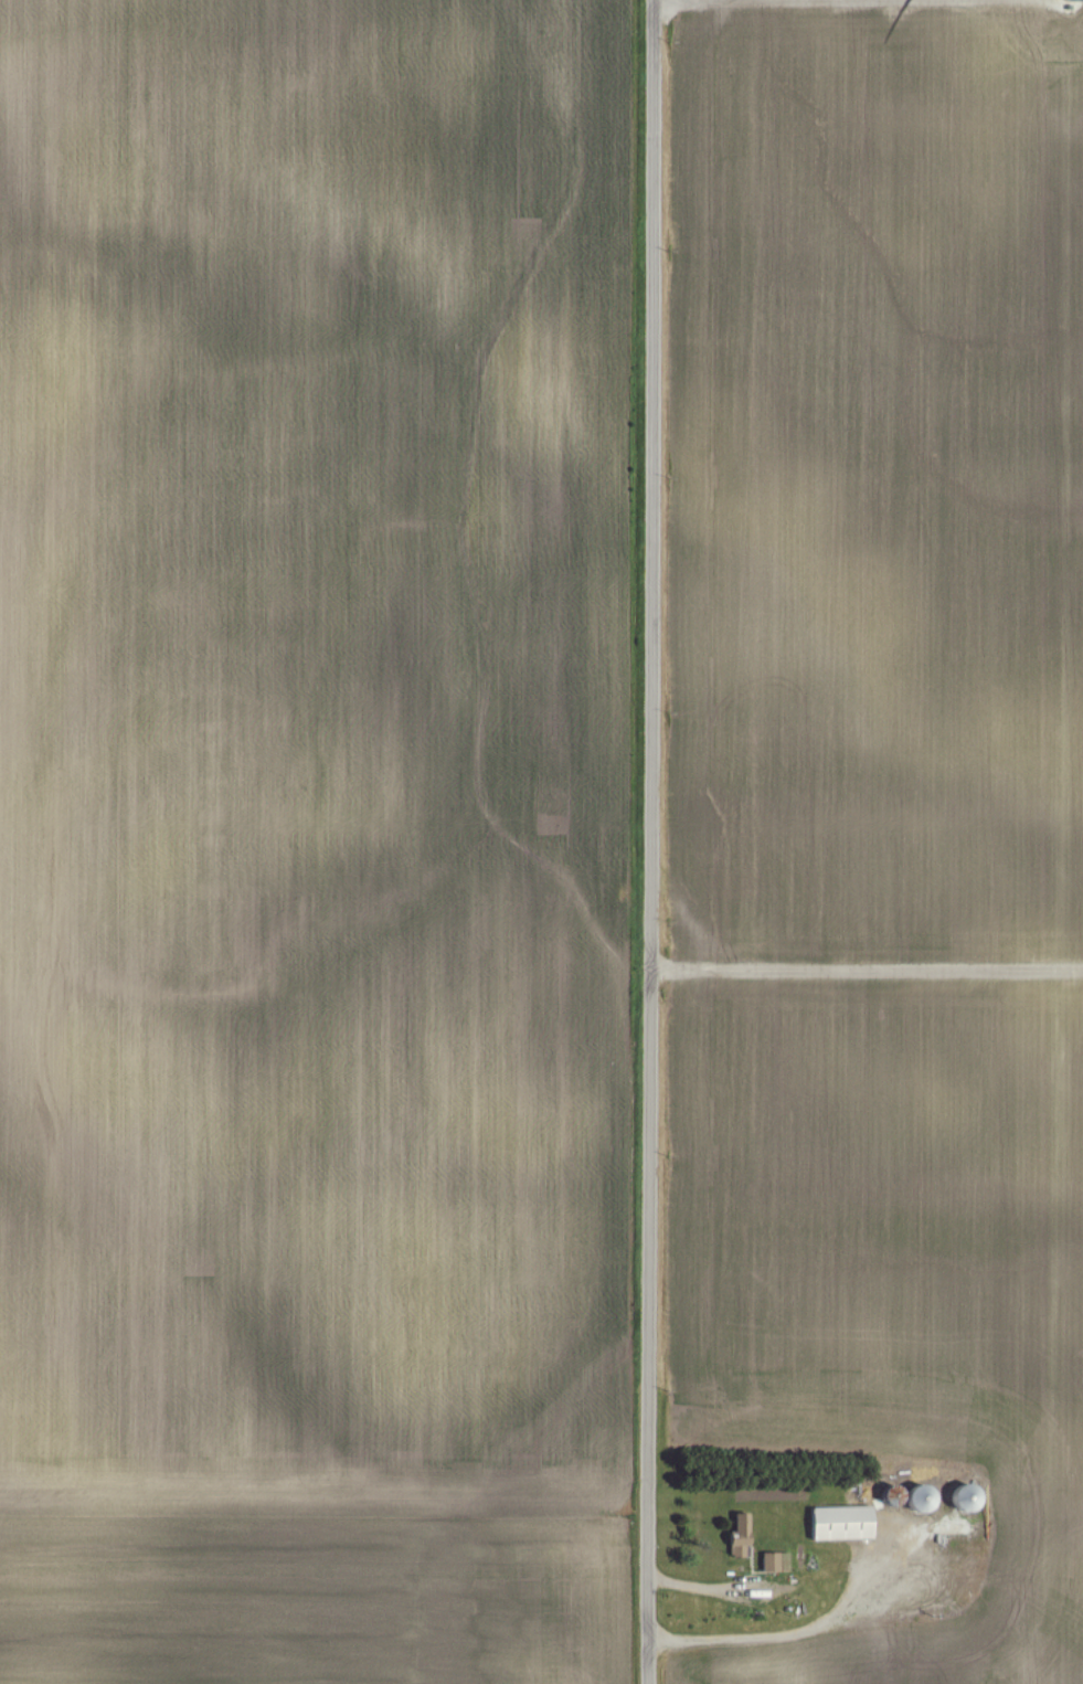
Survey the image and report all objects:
road: (720, 0)
road: (652, 841)
road: (868, 967)
building: (849, 1523)
road: (703, 1584)
road: (782, 1633)

